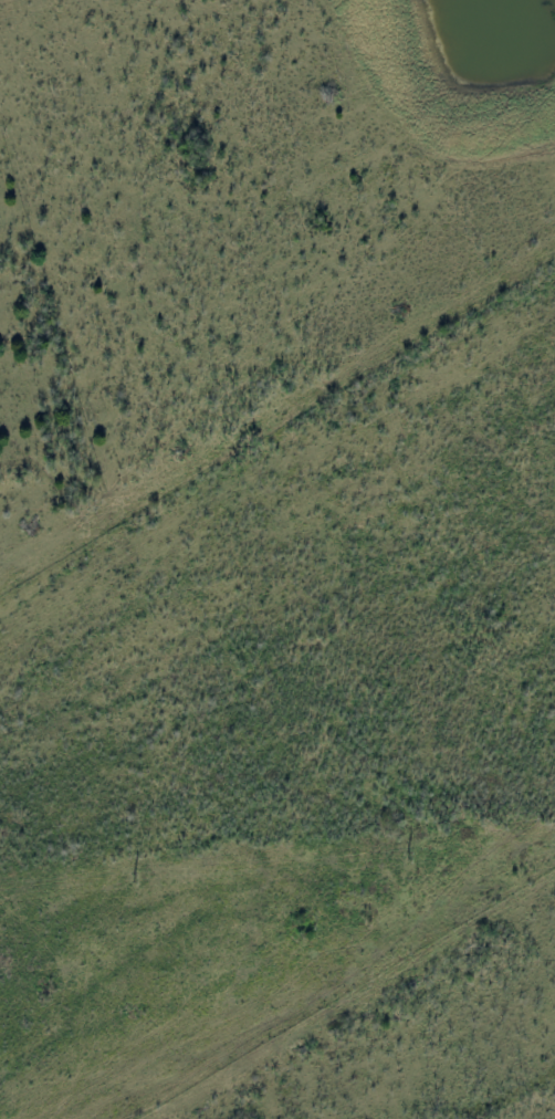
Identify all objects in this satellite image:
power tower: (408, 855)
power tower: (133, 878)

